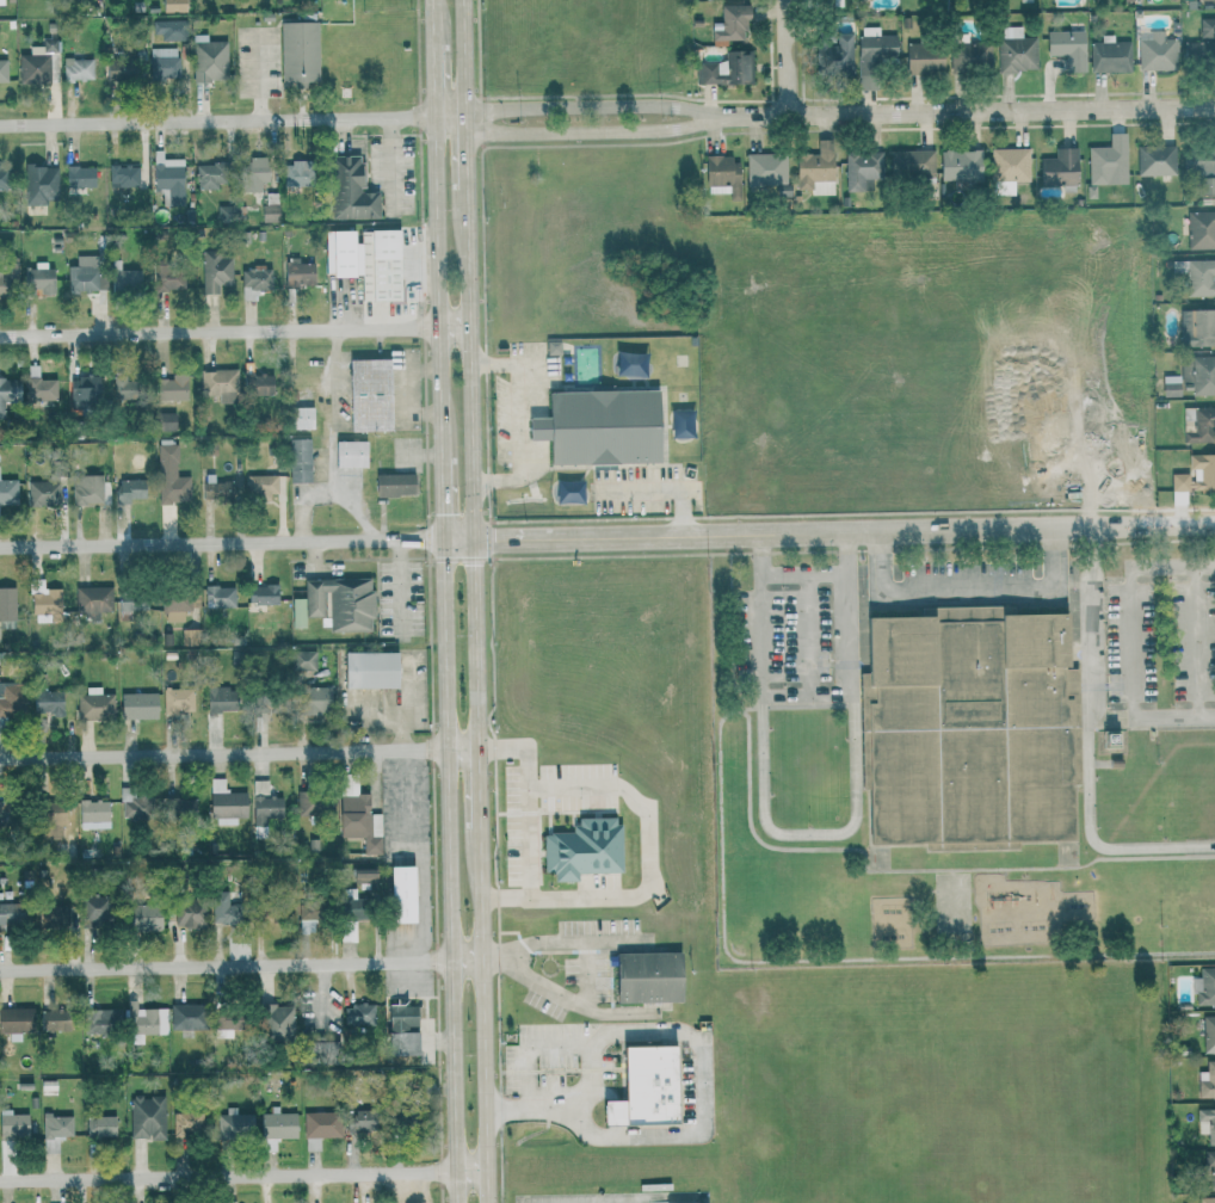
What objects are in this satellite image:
building: (861, 0)
building: (1026, 0)
building: (1205, 0)
building: (1, 2)
building: (827, 2)
building: (171, 6)
road: (432, 21)
building: (730, 24)
building: (168, 29)
building: (1202, 43)
building: (1068, 48)
building: (1016, 51)
building: (1155, 51)
building: (298, 53)
building: (871, 53)
building: (970, 55)
building: (1110, 55)
building: (835, 56)
road: (785, 58)
building: (923, 58)
building: (208, 60)
road: (464, 60)
building: (36, 63)
building: (165, 64)
building: (78, 69)
building: (726, 70)
building: (2, 72)
road: (433, 81)
road: (592, 107)
road: (967, 112)
road: (450, 119)
road: (217, 122)
road: (592, 131)
road: (467, 154)
building: (1155, 160)
building: (1108, 161)
building: (911, 164)
road: (390, 165)
building: (960, 165)
building: (1010, 165)
building: (766, 168)
building: (862, 168)
building: (1059, 168)
building: (816, 169)
building: (254, 173)
building: (297, 174)
building: (123, 175)
building: (79, 177)
building: (208, 177)
building: (722, 177)
building: (2, 178)
building: (167, 179)
building: (39, 184)
building: (350, 190)
building: (365, 261)
road: (417, 267)
building: (215, 271)
building: (297, 273)
building: (85, 274)
building: (1196, 276)
building: (38, 278)
building: (123, 278)
building: (168, 279)
road: (439, 279)
building: (254, 283)
building: (1197, 328)
road: (235, 331)
building: (551, 347)
building: (629, 364)
building: (1197, 375)
building: (217, 384)
building: (257, 384)
building: (39, 385)
building: (1170, 385)
building: (125, 387)
building: (171, 388)
road: (407, 390)
building: (82, 394)
building: (368, 395)
building: (4, 402)
road: (335, 412)
building: (301, 418)
road: (520, 420)
building: (165, 421)
building: (680, 424)
building: (1198, 424)
building: (598, 427)
building: (351, 455)
building: (298, 461)
road: (473, 468)
building: (1202, 469)
building: (169, 476)
building: (1179, 481)
building: (394, 485)
building: (259, 488)
building: (215, 489)
road: (443, 489)
road: (656, 489)
building: (129, 491)
building: (43, 493)
building: (7, 494)
road: (329, 494)
road: (828, 531)
road: (222, 542)
road: (806, 574)
road: (400, 586)
road: (969, 587)
building: (261, 594)
building: (220, 596)
building: (92, 599)
road: (1130, 599)
building: (43, 600)
building: (340, 603)
building: (7, 604)
building: (124, 610)
building: (173, 611)
building: (297, 613)
road: (807, 635)
building: (187, 638)
road: (1197, 641)
building: (302, 660)
building: (369, 670)
road: (808, 696)
building: (12, 698)
building: (220, 698)
building: (177, 699)
building: (45, 701)
building: (315, 701)
road: (405, 703)
building: (93, 704)
building: (264, 704)
building: (136, 705)
road: (797, 705)
road: (1153, 716)
building: (969, 729)
building: (1110, 739)
road: (1086, 745)
road: (240, 752)
building: (259, 786)
road: (480, 788)
building: (224, 802)
building: (132, 804)
building: (314, 806)
building: (180, 808)
building: (265, 808)
building: (4, 812)
building: (92, 814)
building: (357, 815)
building: (48, 819)
road: (528, 822)
road: (810, 833)
building: (582, 849)
road: (646, 850)
road: (449, 870)
road: (911, 870)
building: (362, 875)
building: (401, 894)
building: (223, 906)
building: (92, 909)
building: (187, 912)
building: (11, 914)
building: (51, 917)
building: (141, 917)
building: (307, 917)
road: (567, 940)
road: (839, 960)
road: (241, 964)
building: (646, 976)
building: (1204, 987)
road: (575, 999)
building: (358, 1014)
road: (485, 1014)
building: (185, 1016)
building: (16, 1019)
building: (50, 1020)
building: (98, 1020)
building: (276, 1020)
building: (143, 1022)
building: (224, 1024)
building: (401, 1029)
building: (1208, 1034)
road: (439, 1041)
building: (1207, 1080)
road: (698, 1084)
building: (643, 1087)
building: (146, 1117)
building: (358, 1122)
building: (186, 1123)
building: (1205, 1123)
building: (13, 1124)
building: (235, 1124)
building: (320, 1124)
building: (99, 1127)
building: (275, 1129)
building: (55, 1130)
building: (310, 1145)
building: (1208, 1170)
road: (243, 1176)
building: (1205, 1199)
building: (227, 1202)

